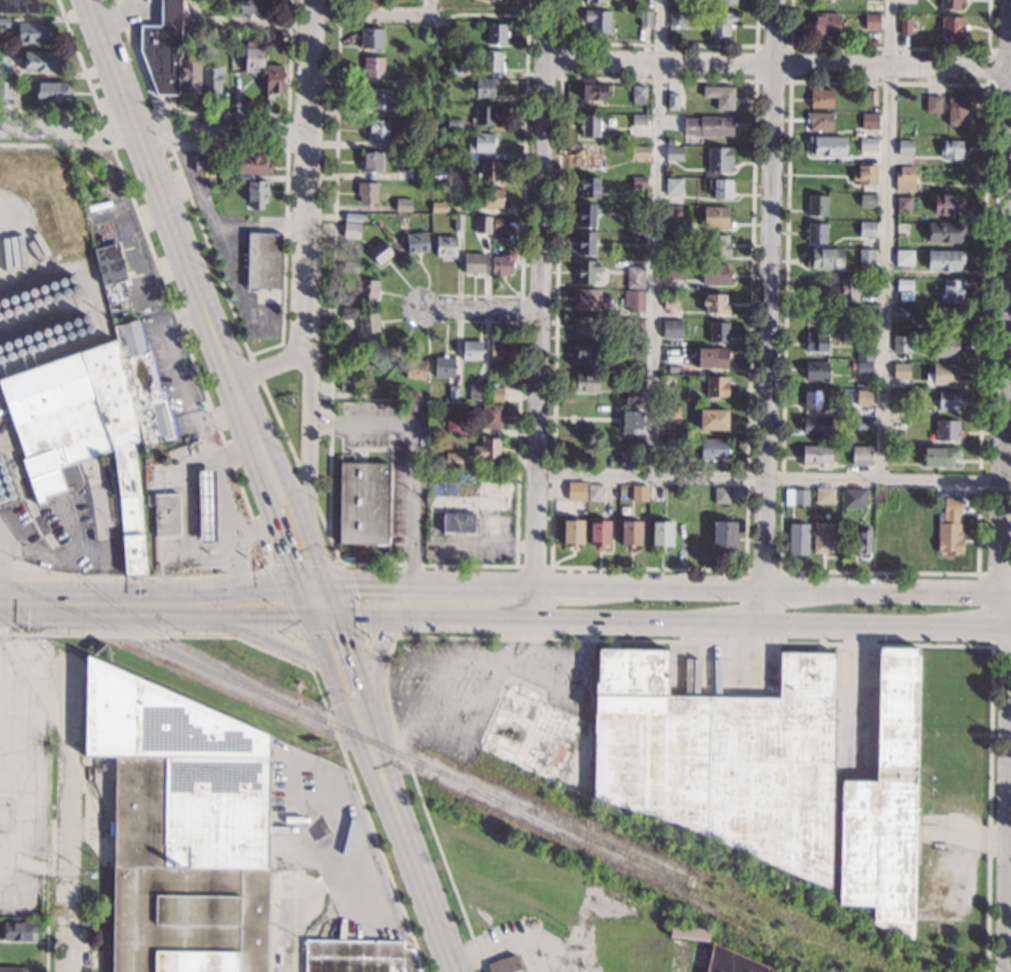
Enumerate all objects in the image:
building: (594, 1)
building: (726, 1)
building: (210, 3)
building: (950, 4)
building: (19, 6)
building: (251, 7)
road: (310, 18)
building: (645, 18)
building: (676, 18)
building: (598, 21)
building: (871, 21)
building: (4, 22)
building: (721, 23)
building: (826, 24)
building: (904, 25)
building: (951, 27)
building: (31, 33)
building: (223, 33)
building: (496, 33)
building: (427, 34)
building: (439, 34)
building: (236, 38)
building: (370, 39)
building: (272, 40)
building: (164, 48)
building: (253, 58)
building: (490, 61)
building: (41, 62)
road: (779, 65)
building: (373, 66)
building: (3, 68)
building: (455, 70)
building: (190, 76)
building: (272, 80)
building: (211, 81)
building: (407, 81)
building: (445, 81)
building: (484, 87)
building: (5, 90)
building: (52, 91)
building: (593, 92)
building: (638, 94)
building: (721, 96)
building: (870, 97)
building: (820, 98)
building: (381, 99)
road: (96, 101)
building: (672, 101)
building: (933, 104)
building: (957, 110)
road: (219, 111)
building: (415, 112)
road: (294, 113)
building: (483, 115)
building: (638, 119)
building: (818, 120)
building: (868, 121)
building: (454, 124)
building: (709, 125)
building: (589, 126)
building: (378, 129)
road: (154, 133)
building: (670, 141)
building: (416, 143)
building: (479, 143)
building: (867, 144)
road: (170, 146)
building: (827, 146)
building: (904, 147)
building: (950, 149)
building: (438, 152)
building: (638, 153)
building: (673, 153)
building: (591, 156)
building: (719, 159)
building: (371, 161)
building: (206, 162)
building: (252, 165)
building: (489, 170)
building: (905, 173)
building: (403, 174)
building: (865, 177)
building: (438, 179)
building: (228, 180)
building: (639, 182)
building: (904, 186)
building: (588, 187)
building: (673, 187)
building: (722, 188)
building: (366, 192)
building: (256, 195)
building: (489, 199)
building: (867, 200)
building: (902, 203)
building: (946, 204)
building: (402, 205)
building: (817, 205)
building: (438, 207)
building: (638, 209)
building: (672, 212)
building: (586, 215)
building: (352, 217)
building: (716, 218)
building: (469, 221)
building: (457, 222)
building: (482, 224)
building: (499, 228)
building: (866, 229)
building: (901, 229)
building: (351, 231)
building: (944, 232)
building: (816, 233)
building: (635, 238)
road: (653, 238)
building: (671, 239)
road: (885, 239)
building: (416, 243)
building: (585, 243)
building: (717, 245)
building: (445, 246)
road: (180, 250)
building: (379, 252)
road: (304, 255)
building: (824, 257)
building: (903, 257)
building: (864, 260)
building: (944, 260)
building: (263, 261)
building: (473, 264)
building: (501, 265)
building: (350, 266)
building: (674, 270)
building: (586, 271)
building: (111, 273)
building: (714, 274)
building: (635, 277)
building: (904, 285)
building: (367, 289)
building: (848, 289)
building: (952, 289)
building: (905, 296)
building: (922, 297)
building: (586, 298)
road: (1003, 298)
building: (865, 300)
building: (714, 304)
building: (634, 305)
road: (482, 308)
road: (539, 311)
building: (348, 312)
road: (770, 313)
building: (901, 313)
road: (282, 314)
building: (821, 315)
building: (866, 315)
building: (950, 316)
building: (367, 323)
building: (632, 324)
building: (586, 326)
building: (671, 329)
building: (718, 332)
building: (816, 343)
building: (900, 344)
building: (944, 346)
building: (863, 347)
building: (471, 350)
building: (499, 351)
building: (585, 354)
building: (380, 357)
building: (712, 357)
road: (266, 366)
road: (255, 367)
building: (444, 367)
building: (633, 367)
building: (860, 368)
building: (415, 370)
building: (816, 371)
building: (901, 371)
building: (942, 375)
road: (176, 378)
building: (667, 381)
building: (586, 382)
building: (346, 385)
building: (855, 386)
building: (716, 387)
building: (393, 391)
building: (478, 392)
building: (453, 394)
building: (495, 394)
building: (347, 396)
building: (633, 397)
building: (861, 397)
building: (899, 398)
building: (421, 399)
building: (812, 400)
building: (948, 400)
building: (670, 414)
building: (492, 417)
building: (713, 419)
building: (91, 422)
building: (631, 422)
building: (898, 423)
road: (280, 424)
building: (862, 424)
building: (816, 425)
building: (453, 426)
road: (219, 429)
building: (946, 430)
building: (667, 445)
building: (713, 448)
building: (486, 449)
road: (237, 451)
road: (415, 453)
building: (860, 453)
building: (816, 454)
building: (897, 454)
building: (631, 455)
building: (939, 457)
building: (452, 460)
road: (773, 479)
road: (308, 488)
building: (576, 491)
building: (595, 492)
building: (640, 493)
building: (656, 493)
road: (225, 495)
building: (720, 495)
building: (824, 496)
building: (206, 497)
building: (796, 497)
building: (910, 497)
building: (854, 498)
building: (880, 498)
building: (363, 503)
building: (167, 514)
building: (458, 523)
building: (949, 528)
building: (573, 532)
building: (598, 532)
building: (631, 533)
building: (661, 533)
building: (723, 535)
road: (329, 536)
building: (824, 538)
building: (797, 539)
building: (860, 541)
building: (914, 541)
road: (287, 544)
building: (884, 546)
road: (4, 556)
road: (236, 560)
road: (70, 561)
road: (183, 561)
traffic signals: (302, 589)
traffic signals: (326, 589)
road: (656, 592)
road: (236, 595)
road: (329, 599)
road: (307, 604)
road: (85, 605)
railway: (125, 613)
road: (241, 617)
traffic signals: (313, 620)
traffic signals: (337, 620)
road: (354, 620)
road: (0, 621)
road: (703, 625)
road: (360, 629)
road: (368, 634)
road: (384, 636)
road: (301, 640)
road: (271, 643)
road: (306, 645)
road: (371, 649)
road: (306, 658)
road: (329, 667)
road: (311, 672)
road: (375, 672)
road: (359, 717)
building: (527, 730)
railway: (348, 731)
road: (367, 734)
road: (1009, 739)
road: (65, 743)
building: (721, 757)
road: (1006, 780)
road: (48, 795)
building: (885, 804)
building: (181, 828)
road: (68, 830)
parking lot: (325, 845)
road: (1008, 850)
road: (415, 856)
road: (271, 922)
road: (46, 924)
road: (66, 924)
building: (18, 932)
road: (291, 934)
building: (689, 934)
building: (359, 957)
building: (731, 962)
building: (504, 965)
road: (1005, 968)
building: (13, 969)

